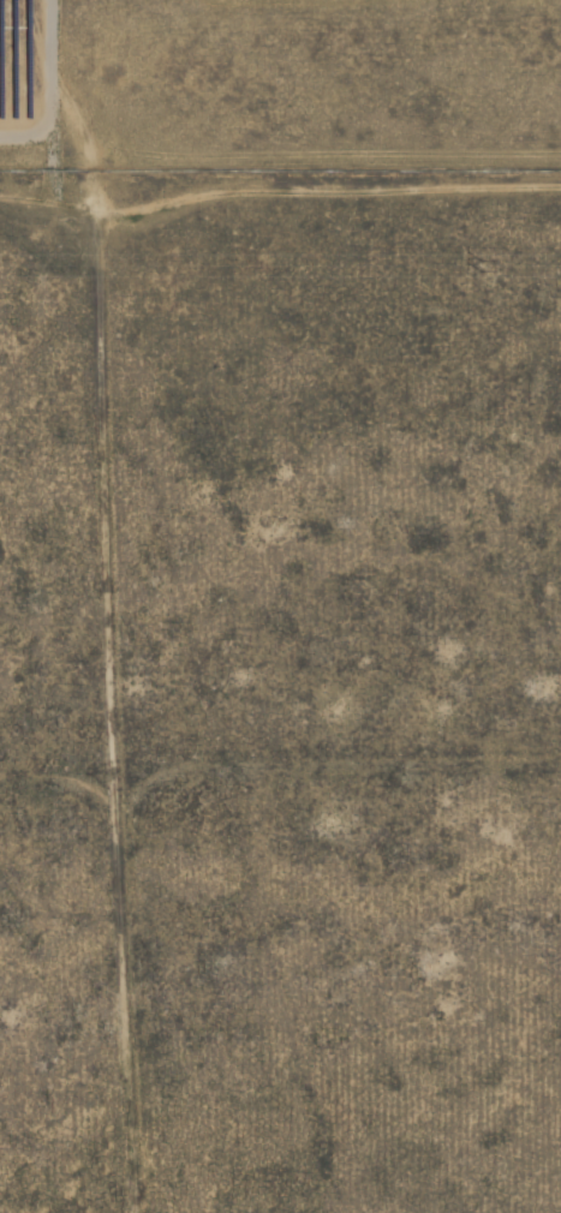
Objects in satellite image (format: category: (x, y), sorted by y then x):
solar farm: (24, 60)
power tower: (482, 268)

